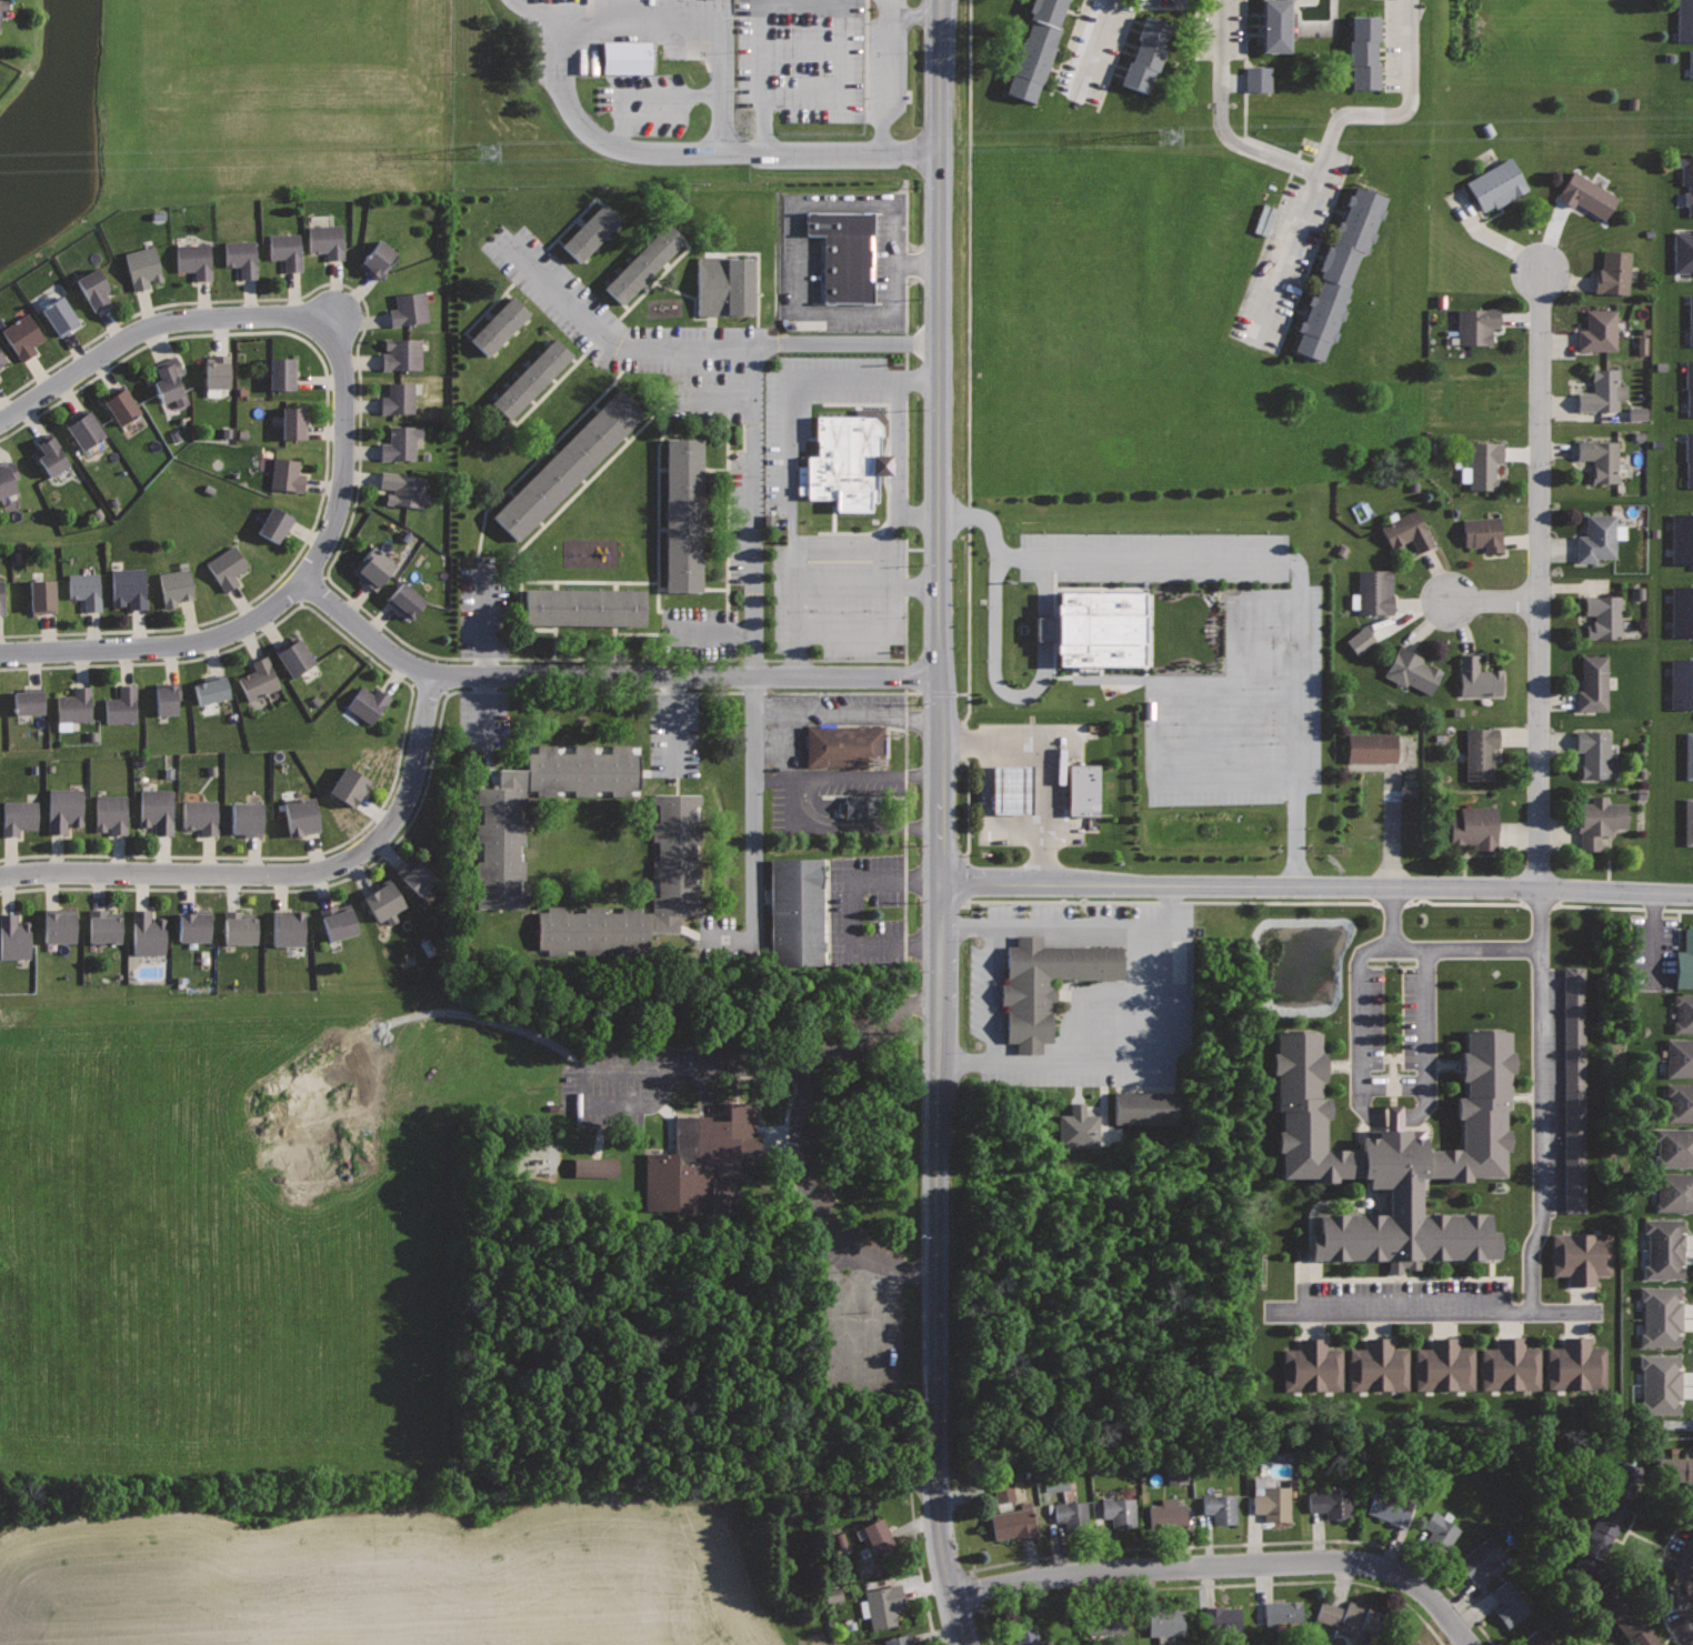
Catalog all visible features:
road: (833, 0)
building: (4, 6)
road: (694, 19)
building: (1685, 20)
building: (1278, 23)
building: (1035, 47)
road: (804, 48)
road: (1094, 49)
building: (1363, 49)
building: (1145, 52)
building: (628, 57)
parking lot: (740, 59)
building: (1691, 63)
road: (892, 76)
building: (1259, 79)
road: (670, 94)
road: (1399, 113)
road: (619, 114)
road: (1223, 118)
road: (767, 133)
power tower: (1163, 134)
road: (612, 139)
power tower: (487, 150)
road: (683, 152)
building: (1687, 179)
building: (1495, 184)
building: (1586, 194)
building: (587, 233)
building: (327, 240)
building: (285, 250)
building: (1684, 252)
building: (844, 254)
building: (241, 255)
road: (1285, 258)
building: (194, 259)
building: (377, 260)
building: (639, 265)
building: (1340, 265)
building: (142, 267)
building: (1614, 272)
building: (94, 288)
building: (723, 288)
building: (410, 309)
building: (60, 315)
road: (281, 315)
building: (1690, 320)
building: (1476, 325)
building: (495, 327)
building: (1599, 331)
building: (22, 335)
road: (618, 342)
building: (402, 353)
building: (2, 359)
building: (218, 371)
building: (283, 373)
building: (528, 380)
building: (170, 381)
building: (1690, 388)
building: (1603, 391)
building: (1476, 392)
building: (399, 398)
building: (120, 404)
building: (294, 422)
building: (84, 429)
parking lot: (748, 438)
road: (325, 440)
road: (943, 441)
building: (401, 443)
building: (50, 453)
road: (793, 454)
building: (1601, 458)
building: (1689, 460)
building: (843, 462)
building: (1484, 464)
building: (565, 469)
building: (285, 474)
building: (8, 478)
building: (404, 489)
parking lot: (838, 506)
road: (920, 513)
building: (680, 518)
building: (274, 524)
building: (1408, 531)
building: (1484, 533)
building: (1597, 539)
building: (1682, 539)
road: (755, 542)
road: (844, 549)
road: (896, 559)
building: (227, 566)
building: (374, 569)
road: (1295, 572)
road: (1541, 580)
building: (177, 585)
building: (129, 586)
road: (844, 586)
road: (920, 586)
building: (86, 589)
road: (313, 591)
building: (1375, 592)
building: (42, 595)
building: (1, 596)
building: (407, 601)
road: (1495, 601)
building: (582, 609)
building: (1682, 610)
building: (1604, 616)
building: (1098, 632)
building: (1360, 640)
road: (160, 646)
building: (293, 654)
road: (498, 659)
road: (1246, 661)
road: (994, 666)
building: (1411, 670)
road: (607, 676)
building: (1477, 678)
building: (259, 679)
parking lot: (1231, 683)
building: (1681, 683)
building: (1593, 684)
road: (1160, 686)
building: (210, 688)
road: (524, 691)
building: (167, 696)
building: (28, 700)
building: (368, 703)
building: (76, 704)
building: (122, 705)
road: (849, 713)
parking lot: (824, 720)
road: (405, 722)
road: (1202, 730)
road: (782, 740)
building: (842, 743)
building: (1372, 746)
building: (1593, 751)
building: (1480, 753)
building: (1689, 755)
road: (1043, 764)
road: (783, 771)
road: (871, 775)
road: (1229, 775)
road: (778, 778)
parking lot: (1024, 784)
building: (349, 785)
building: (1010, 789)
building: (1083, 789)
parking lot: (835, 800)
building: (855, 805)
building: (64, 808)
building: (157, 810)
building: (111, 813)
road: (982, 814)
building: (19, 815)
building: (201, 815)
building: (302, 816)
building: (247, 819)
building: (1600, 820)
building: (1689, 821)
road: (854, 826)
building: (1475, 826)
building: (677, 854)
building: (499, 855)
road: (281, 873)
building: (415, 875)
road: (1318, 887)
parking lot: (1520, 899)
building: (383, 900)
road: (1330, 902)
road: (1172, 905)
road: (851, 911)
parking lot: (837, 912)
building: (790, 913)
road: (1394, 916)
building: (339, 921)
building: (60, 924)
building: (103, 925)
building: (194, 925)
road: (962, 925)
road: (1076, 925)
building: (239, 926)
building: (288, 927)
building: (148, 933)
building: (13, 937)
building: (1685, 962)
building: (1046, 982)
parking lot: (1079, 993)
road: (994, 994)
road: (1132, 994)
road: (1078, 1000)
road: (1268, 1005)
building: (1683, 1012)
road: (444, 1014)
road: (1300, 1022)
road: (1358, 1032)
road: (1431, 1032)
building: (1680, 1057)
road: (968, 1063)
road: (1152, 1063)
road: (702, 1065)
building: (1576, 1089)
road: (1542, 1103)
building: (1680, 1103)
building: (1144, 1107)
parking lot: (1549, 1115)
building: (1076, 1129)
building: (1674, 1146)
building: (1401, 1155)
building: (697, 1157)
building: (594, 1167)
parking lot: (809, 1187)
building: (1675, 1193)
road: (825, 1202)
building: (1665, 1247)
building: (1581, 1255)
road: (941, 1265)
road: (1432, 1314)
building: (1662, 1315)
building: (1380, 1365)
building: (1444, 1365)
building: (1576, 1365)
building: (1313, 1366)
building: (1511, 1366)
road: (843, 1372)
building: (1660, 1384)
building: (1674, 1470)
building: (1176, 1476)
building: (1055, 1483)
building: (1002, 1491)
building: (1273, 1502)
building: (1332, 1502)
building: (1222, 1506)
building: (1391, 1507)
building: (1121, 1513)
building: (1169, 1513)
building: (1074, 1516)
building: (1013, 1524)
building: (1441, 1531)
building: (878, 1536)
building: (1599, 1536)
road: (1249, 1542)
building: (1481, 1561)
road: (918, 1564)
road: (1226, 1565)
road: (1660, 1574)
road: (1205, 1585)
road: (1687, 1586)
building: (1510, 1604)
building: (884, 1605)
building: (1283, 1613)
building: (1624, 1616)
building: (1361, 1617)
building: (1223, 1619)
building: (1165, 1622)
building: (1105, 1625)
building: (1030, 1636)
building: (899, 1639)
building: (1534, 1639)
building: (1414, 1644)

